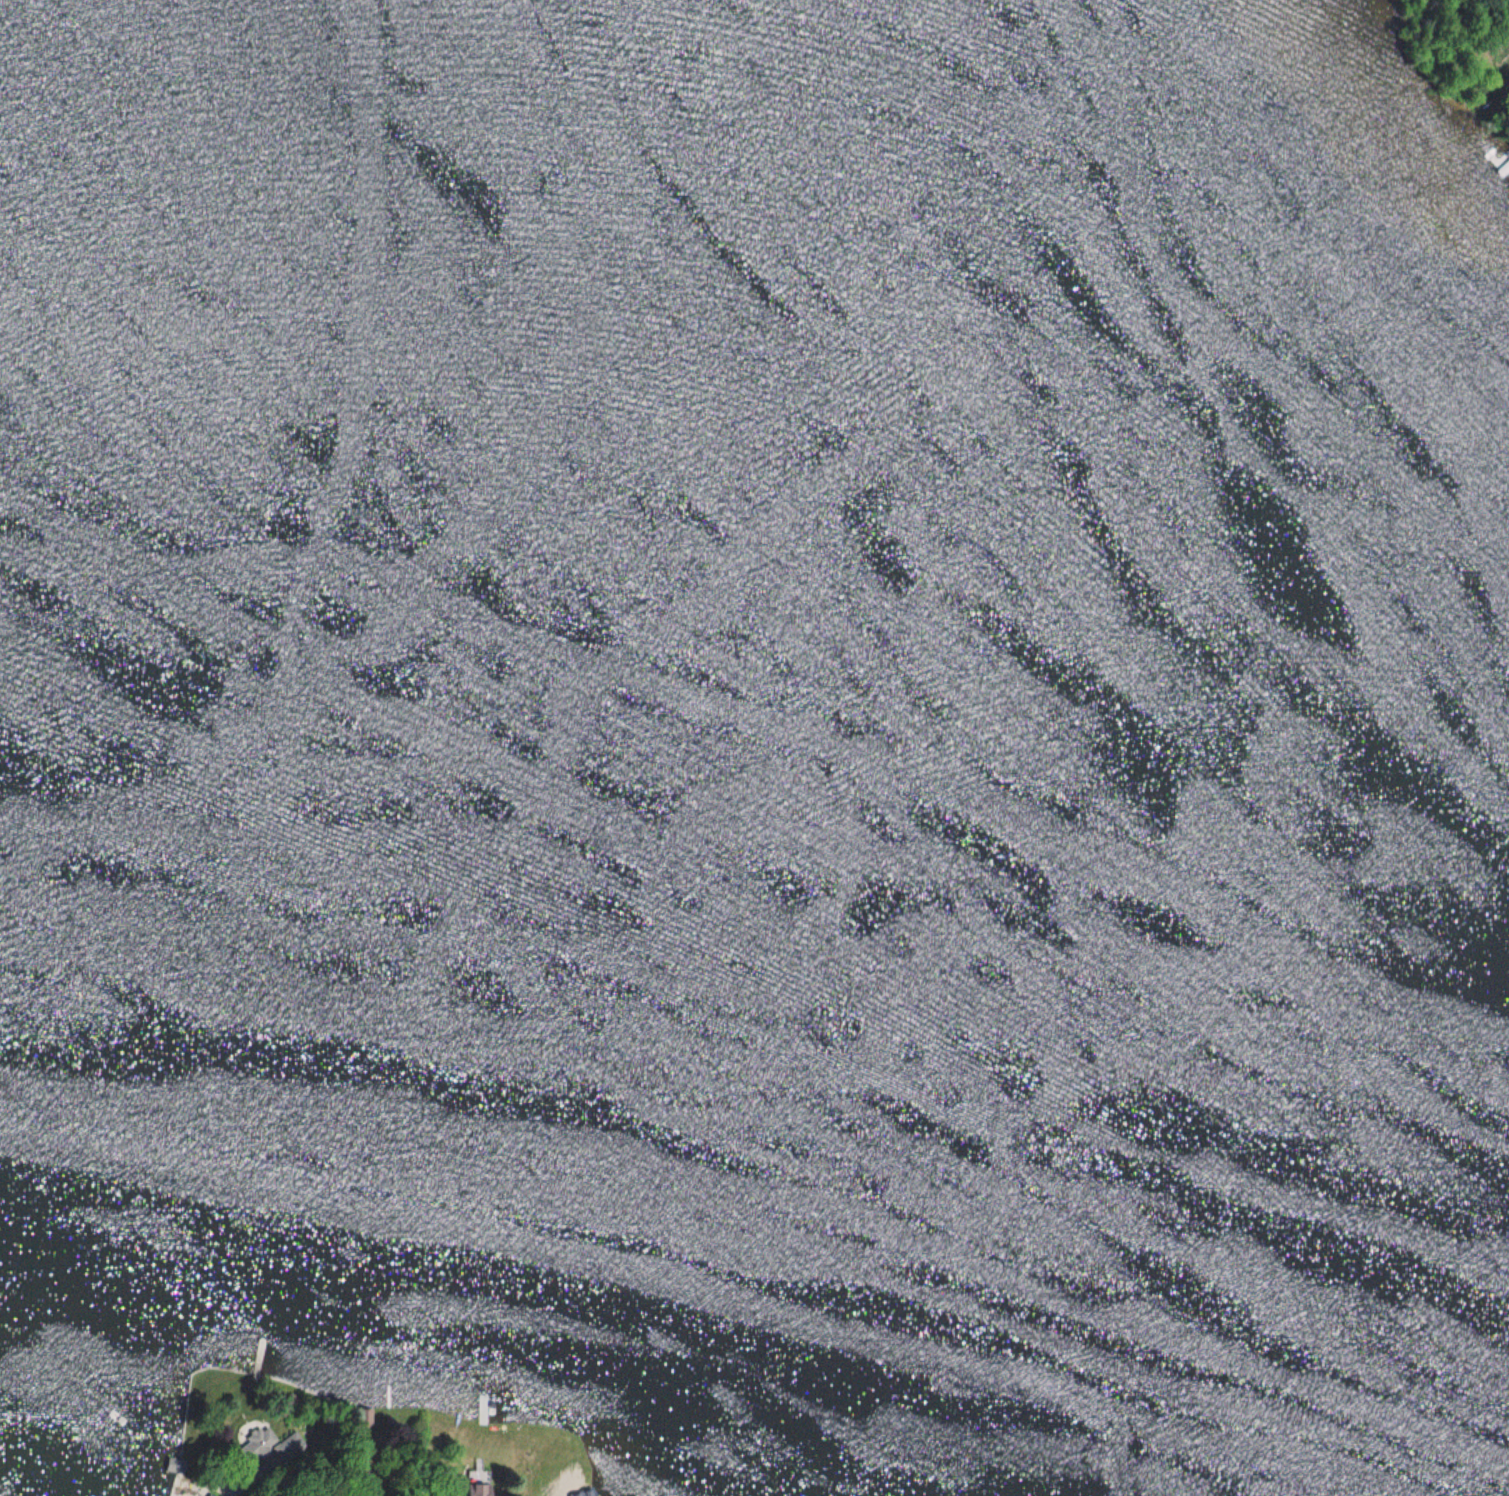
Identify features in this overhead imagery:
road: (1476, 30)
river: (808, 511)
building: (268, 1447)
building: (480, 1491)
building: (369, 1495)
building: (592, 1495)

